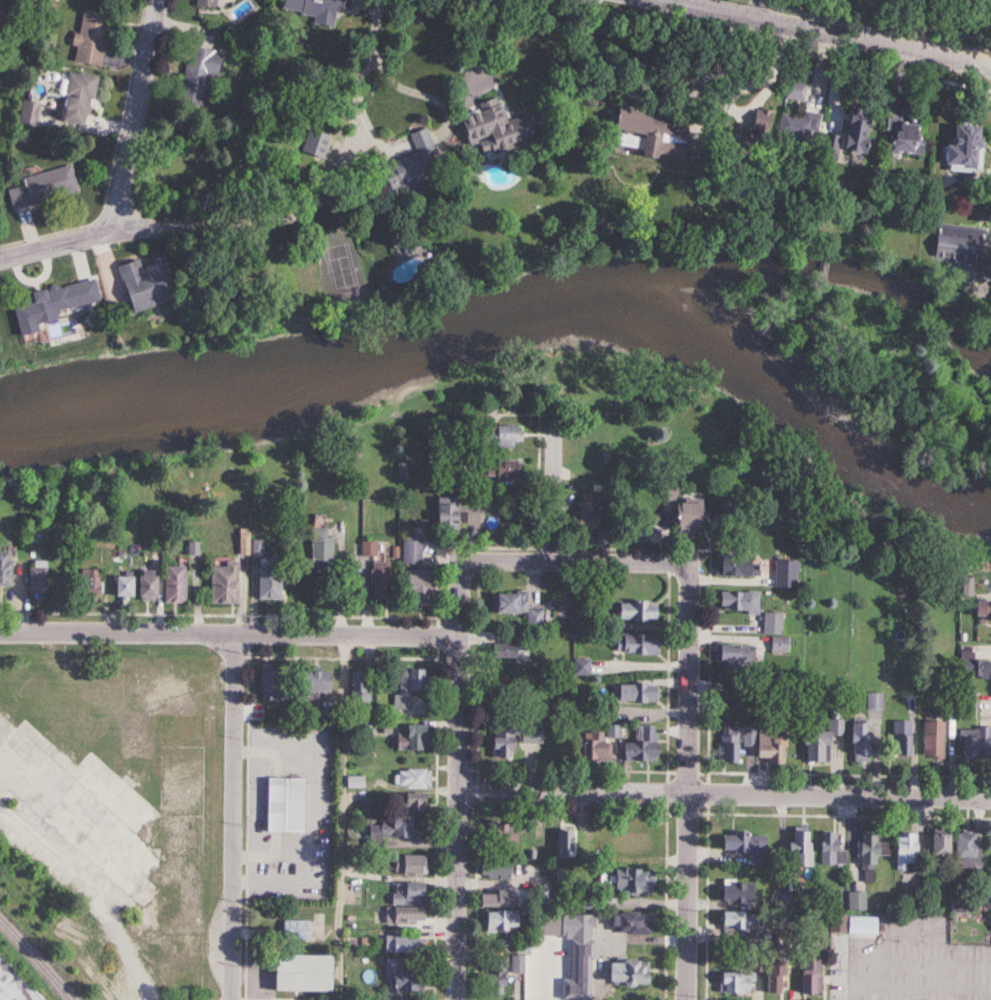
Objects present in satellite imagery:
building: (204, 3)
building: (316, 8)
road: (764, 12)
road: (820, 35)
building: (89, 38)
road: (495, 42)
building: (197, 73)
building: (794, 90)
building: (77, 99)
road: (650, 102)
road: (136, 117)
building: (759, 120)
building: (797, 127)
building: (853, 127)
building: (498, 128)
building: (651, 131)
building: (902, 134)
building: (729, 144)
building: (827, 148)
building: (960, 148)
building: (414, 167)
building: (43, 187)
road: (270, 217)
building: (960, 240)
building: (145, 282)
building: (58, 302)
river: (516, 311)
building: (500, 436)
building: (497, 468)
road: (553, 485)
building: (586, 512)
building: (447, 513)
building: (686, 515)
building: (321, 547)
building: (411, 550)
road: (535, 561)
building: (731, 565)
building: (4, 568)
building: (782, 574)
building: (36, 576)
building: (379, 581)
building: (222, 583)
building: (267, 583)
building: (87, 584)
building: (173, 584)
building: (145, 585)
building: (121, 587)
building: (418, 587)
building: (736, 601)
building: (507, 602)
building: (637, 610)
building: (981, 610)
building: (534, 618)
building: (772, 623)
road: (228, 634)
building: (636, 643)
building: (778, 644)
building: (506, 651)
building: (735, 653)
building: (970, 664)
building: (314, 682)
building: (267, 686)
building: (402, 686)
building: (354, 687)
building: (628, 694)
building: (526, 734)
building: (403, 739)
building: (897, 740)
building: (927, 741)
building: (853, 742)
building: (816, 743)
building: (496, 744)
building: (973, 744)
building: (594, 745)
building: (635, 746)
building: (721, 746)
building: (761, 747)
building: (407, 780)
road: (684, 782)
building: (351, 784)
road: (722, 795)
building: (408, 804)
building: (277, 806)
road: (229, 817)
road: (453, 817)
building: (394, 828)
building: (622, 843)
building: (727, 844)
building: (988, 844)
building: (558, 845)
building: (933, 847)
building: (794, 848)
building: (825, 850)
building: (899, 851)
building: (962, 851)
building: (861, 855)
building: (403, 864)
building: (490, 870)
building: (619, 881)
building: (729, 891)
building: (401, 893)
building: (986, 895)
building: (491, 898)
building: (852, 901)
building: (397, 915)
building: (732, 919)
building: (494, 921)
building: (623, 922)
building: (854, 925)
building: (990, 925)
building: (291, 929)
building: (398, 944)
building: (569, 946)
railway: (34, 961)
building: (512, 964)
building: (294, 972)
building: (620, 972)
building: (767, 974)
building: (803, 975)
building: (403, 979)
building: (491, 982)
building: (728, 982)
building: (12, 987)

